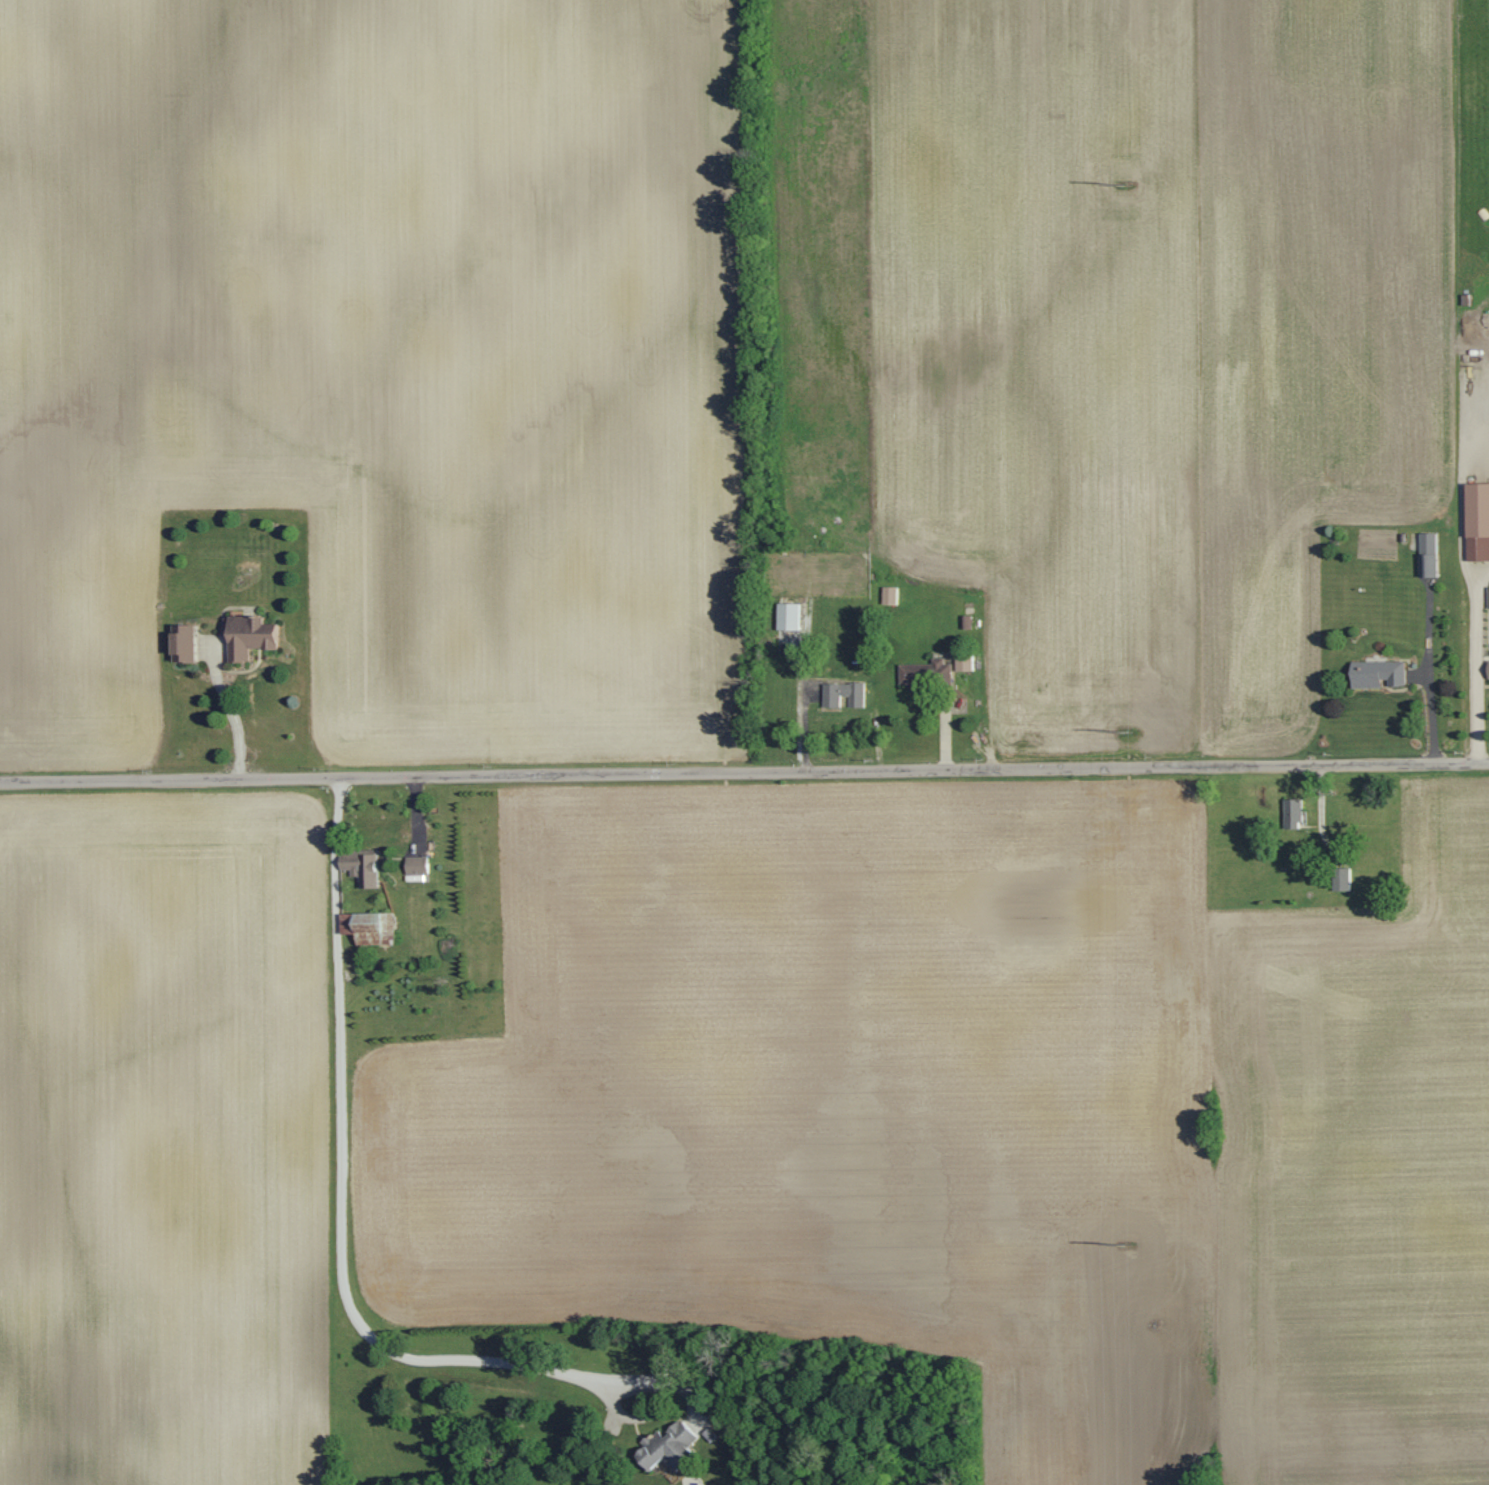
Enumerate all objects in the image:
power tower: (1124, 185)
road: (1464, 501)
building: (1477, 522)
building: (1427, 555)
road: (1485, 572)
building: (1488, 596)
building: (787, 617)
building: (249, 637)
building: (182, 643)
building: (964, 663)
road: (1477, 668)
building: (1488, 670)
building: (1377, 674)
road: (1432, 682)
building: (843, 695)
road: (231, 713)
power tower: (1125, 732)
road: (744, 771)
road: (1322, 807)
building: (1292, 814)
building: (416, 866)
building: (363, 871)
building: (1342, 880)
building: (368, 928)
road: (339, 1207)
power tower: (1125, 1245)
building: (667, 1447)

